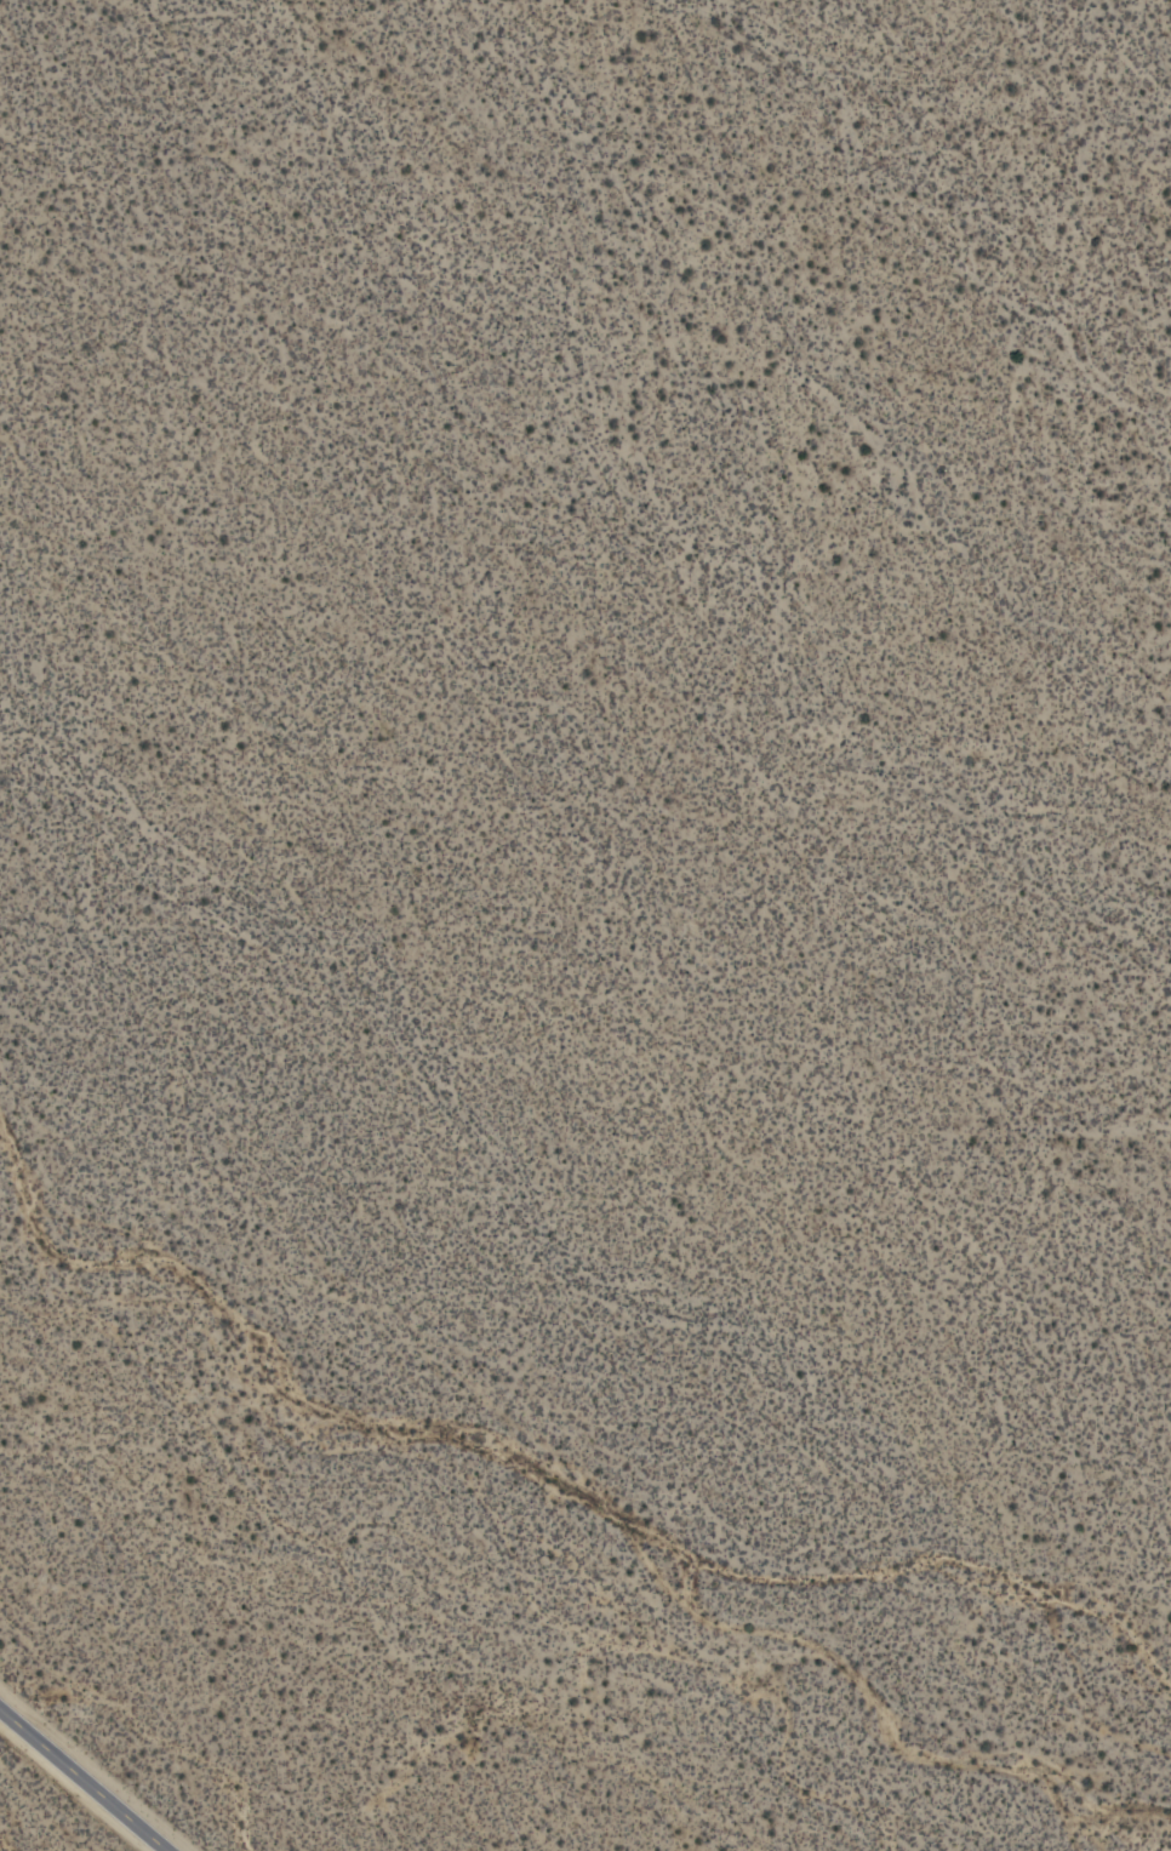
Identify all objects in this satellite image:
road: (80, 1782)

